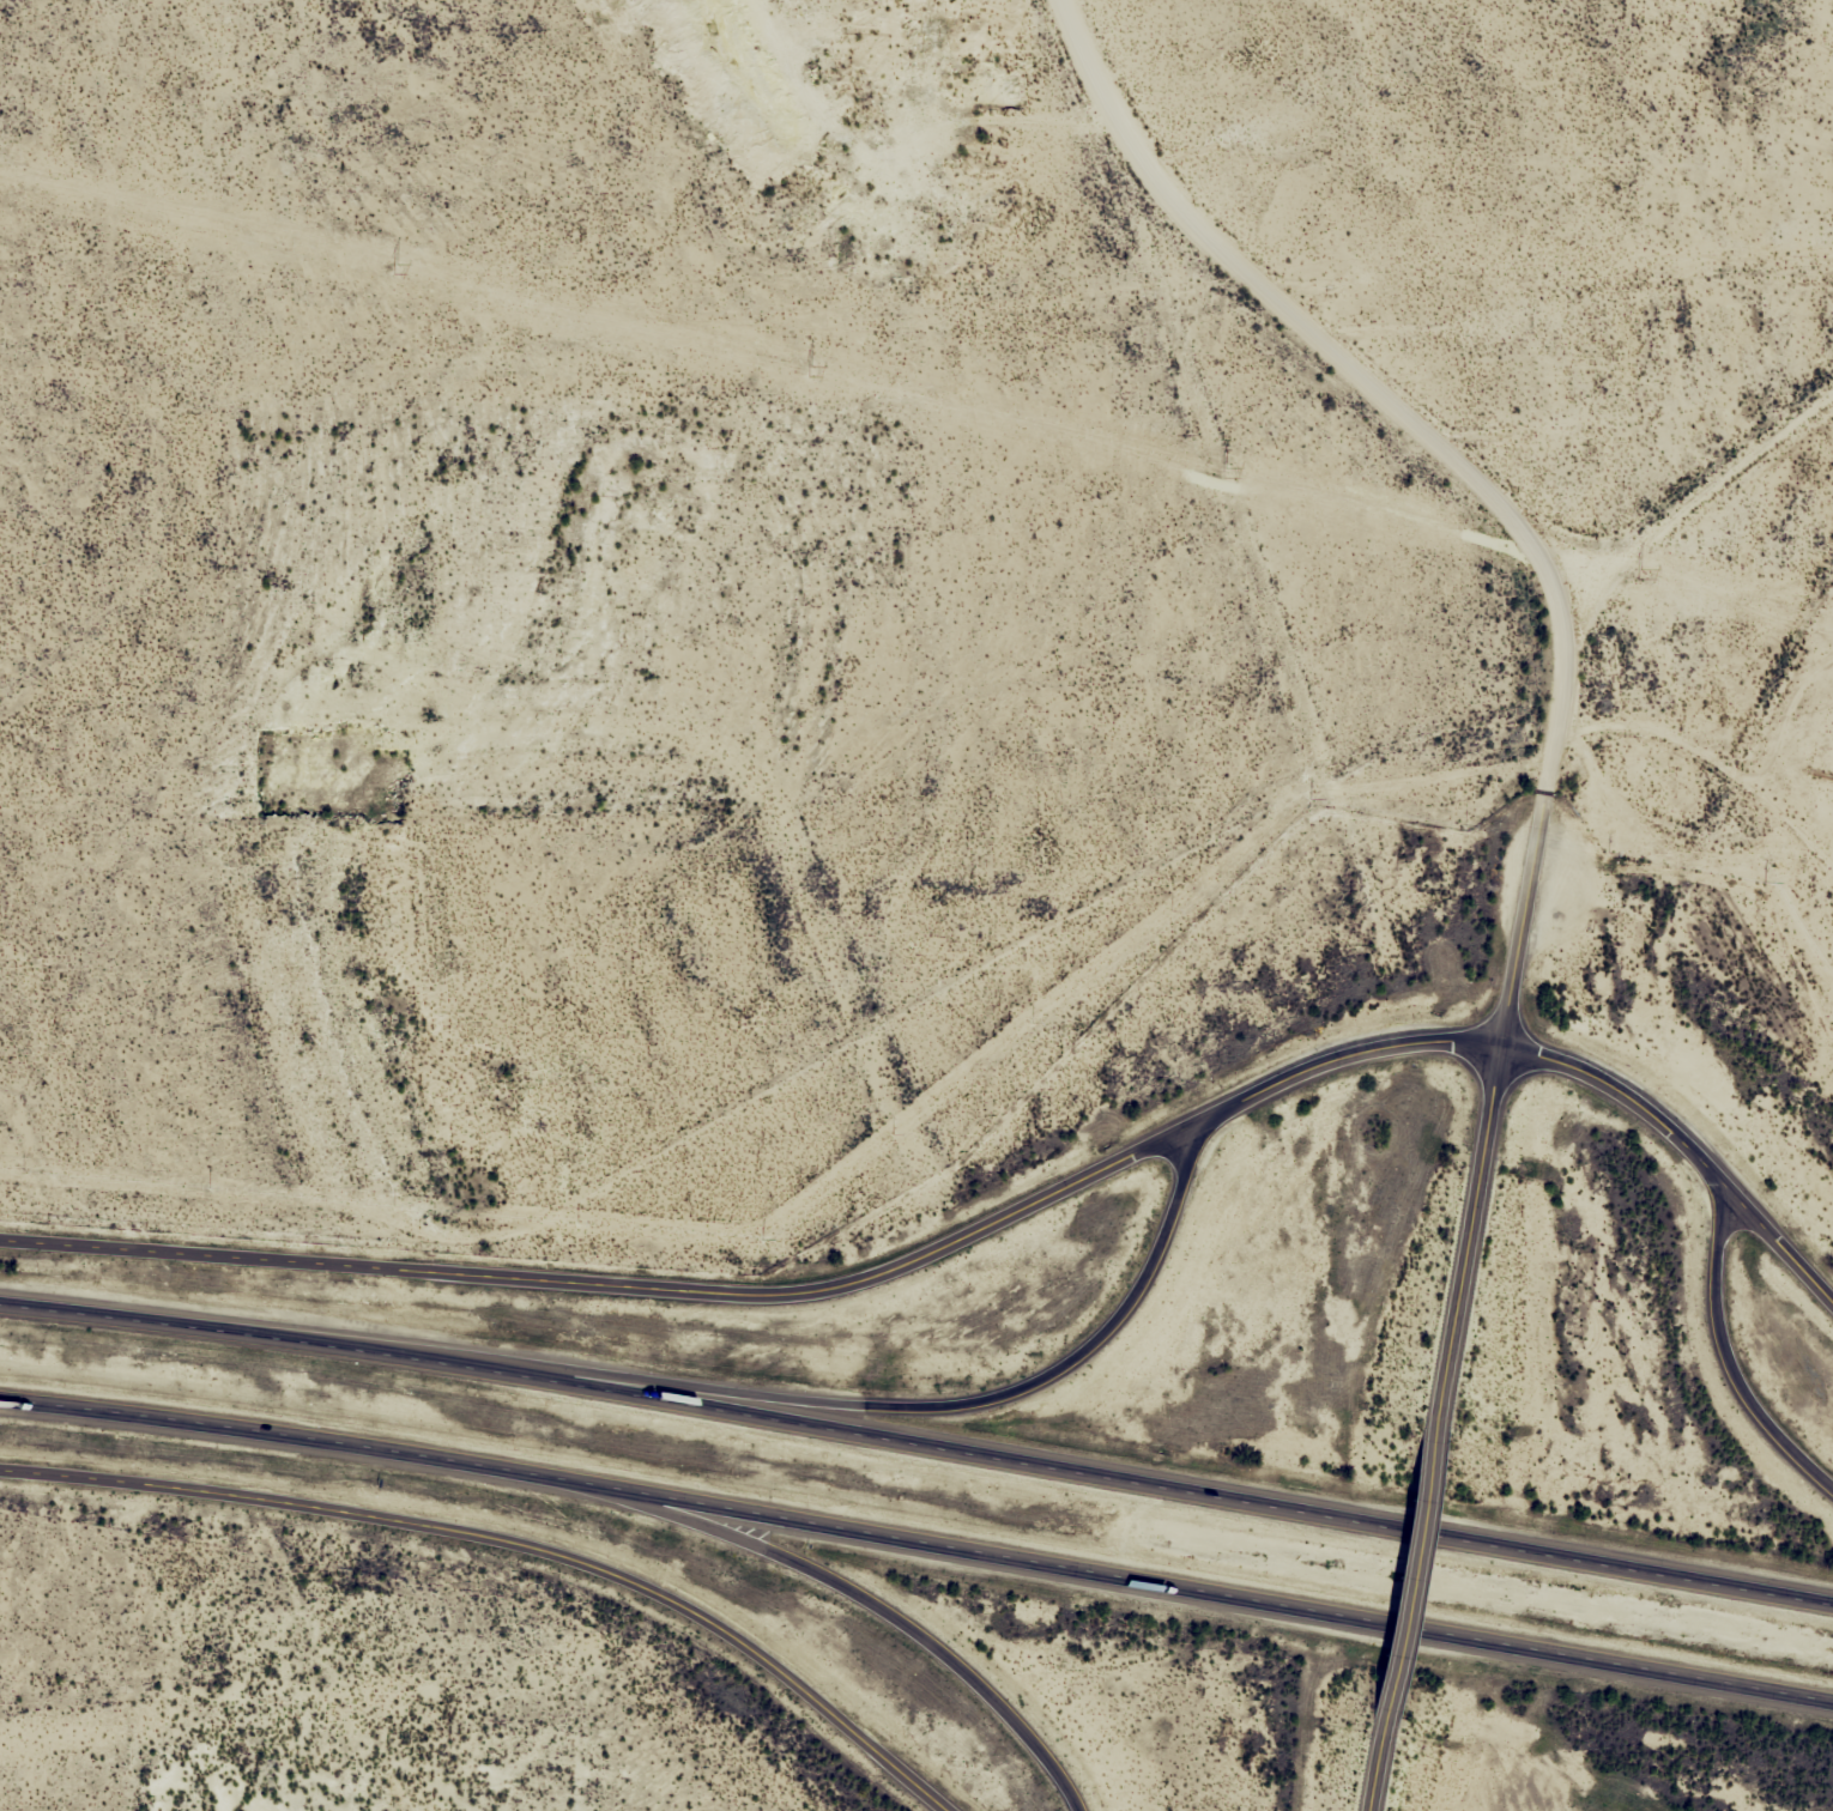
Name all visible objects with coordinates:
power tower: (397, 268)
power tower: (811, 370)
road: (1464, 465)
power tower: (1226, 472)
road: (1699, 509)
power tower: (1640, 574)
road: (1553, 1054)
road: (1468, 1230)
road: (618, 1283)
road: (1735, 1351)
road: (1067, 1362)
road: (919, 1425)
road: (508, 1549)
road: (916, 1552)
road: (1412, 1568)
road: (853, 1586)
road: (1378, 1763)

